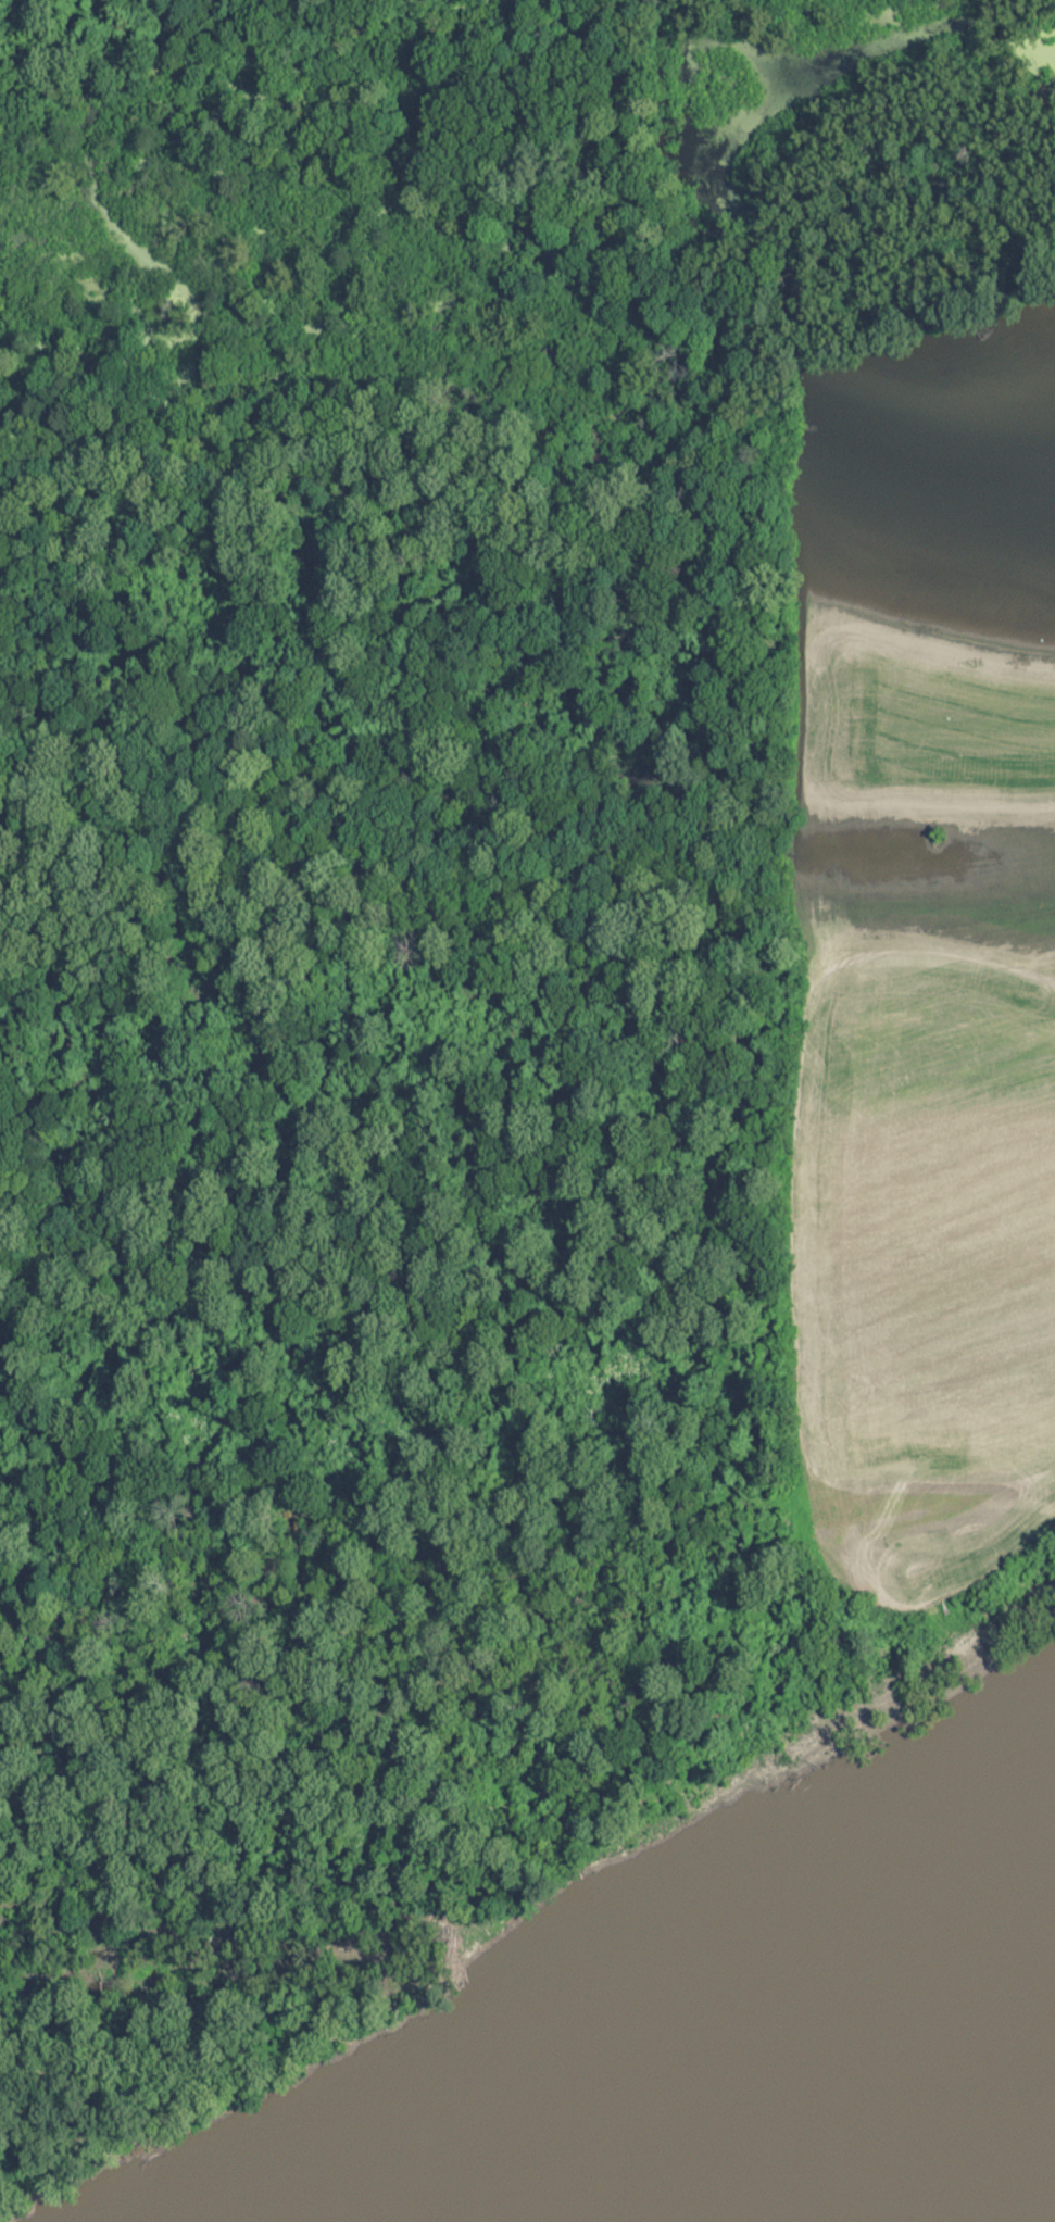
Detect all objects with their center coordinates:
road: (41, 26)
road: (737, 27)

